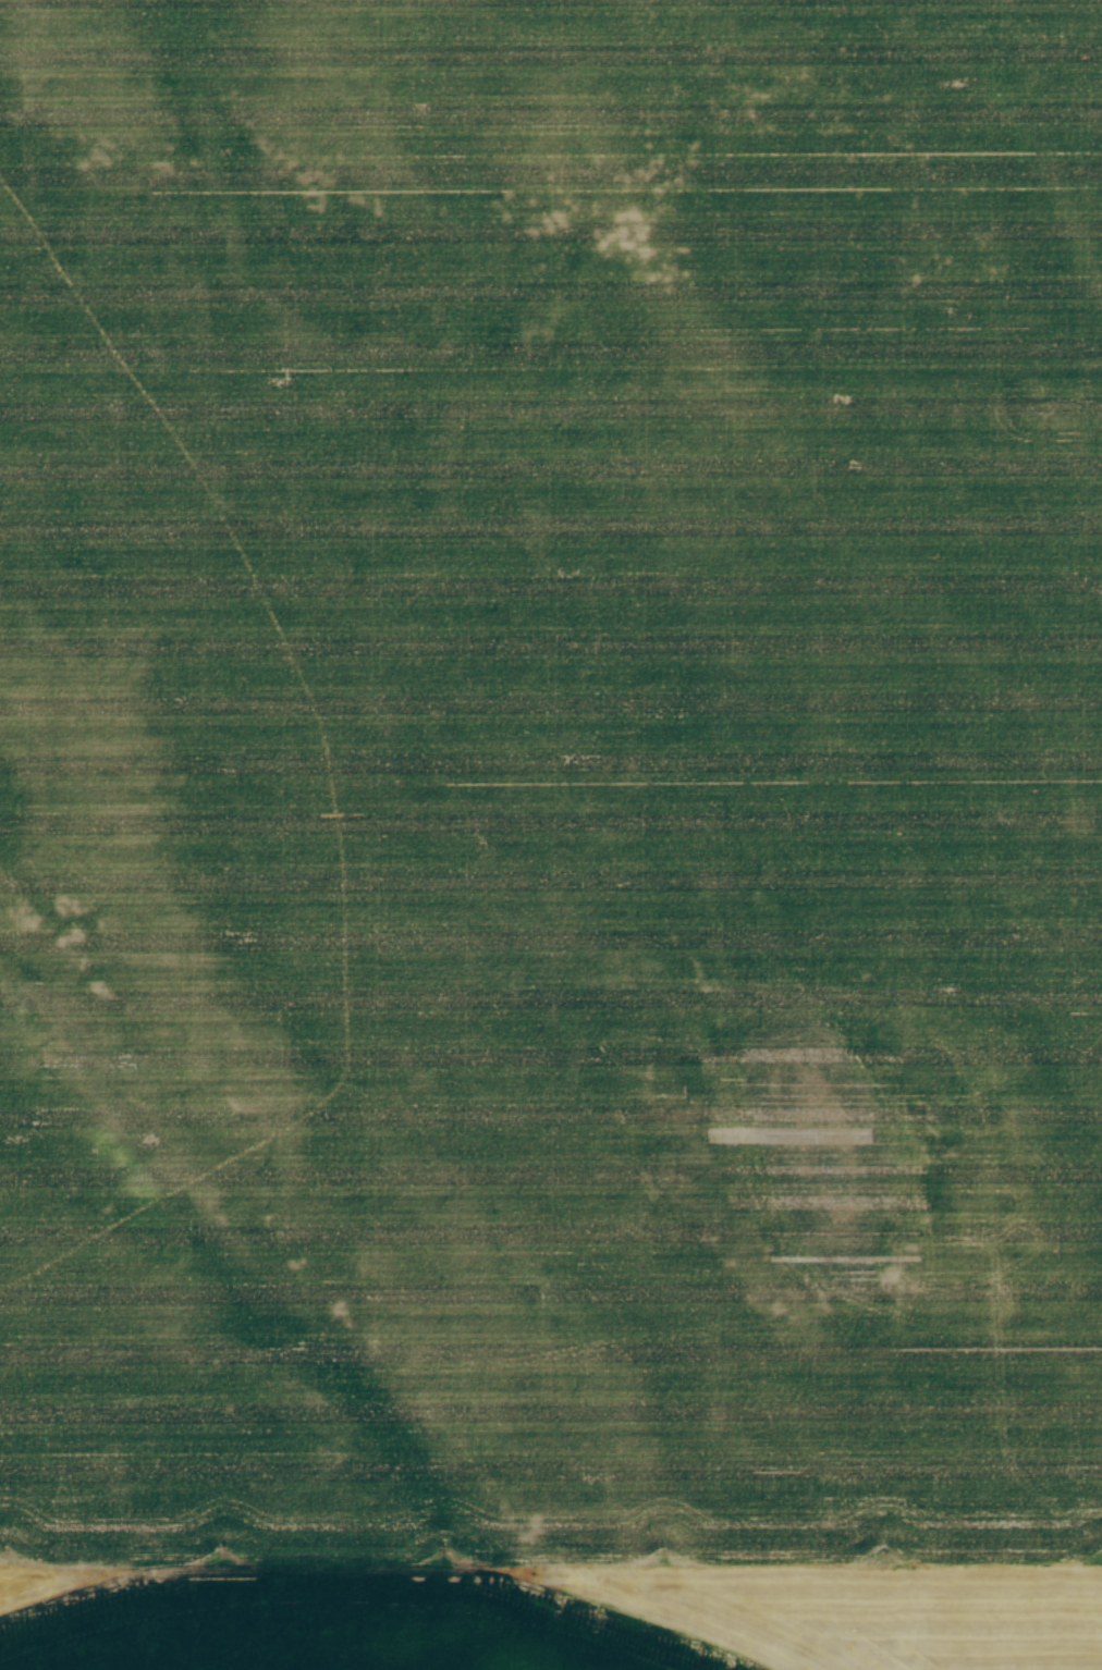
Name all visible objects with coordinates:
crop: (551, 835)

